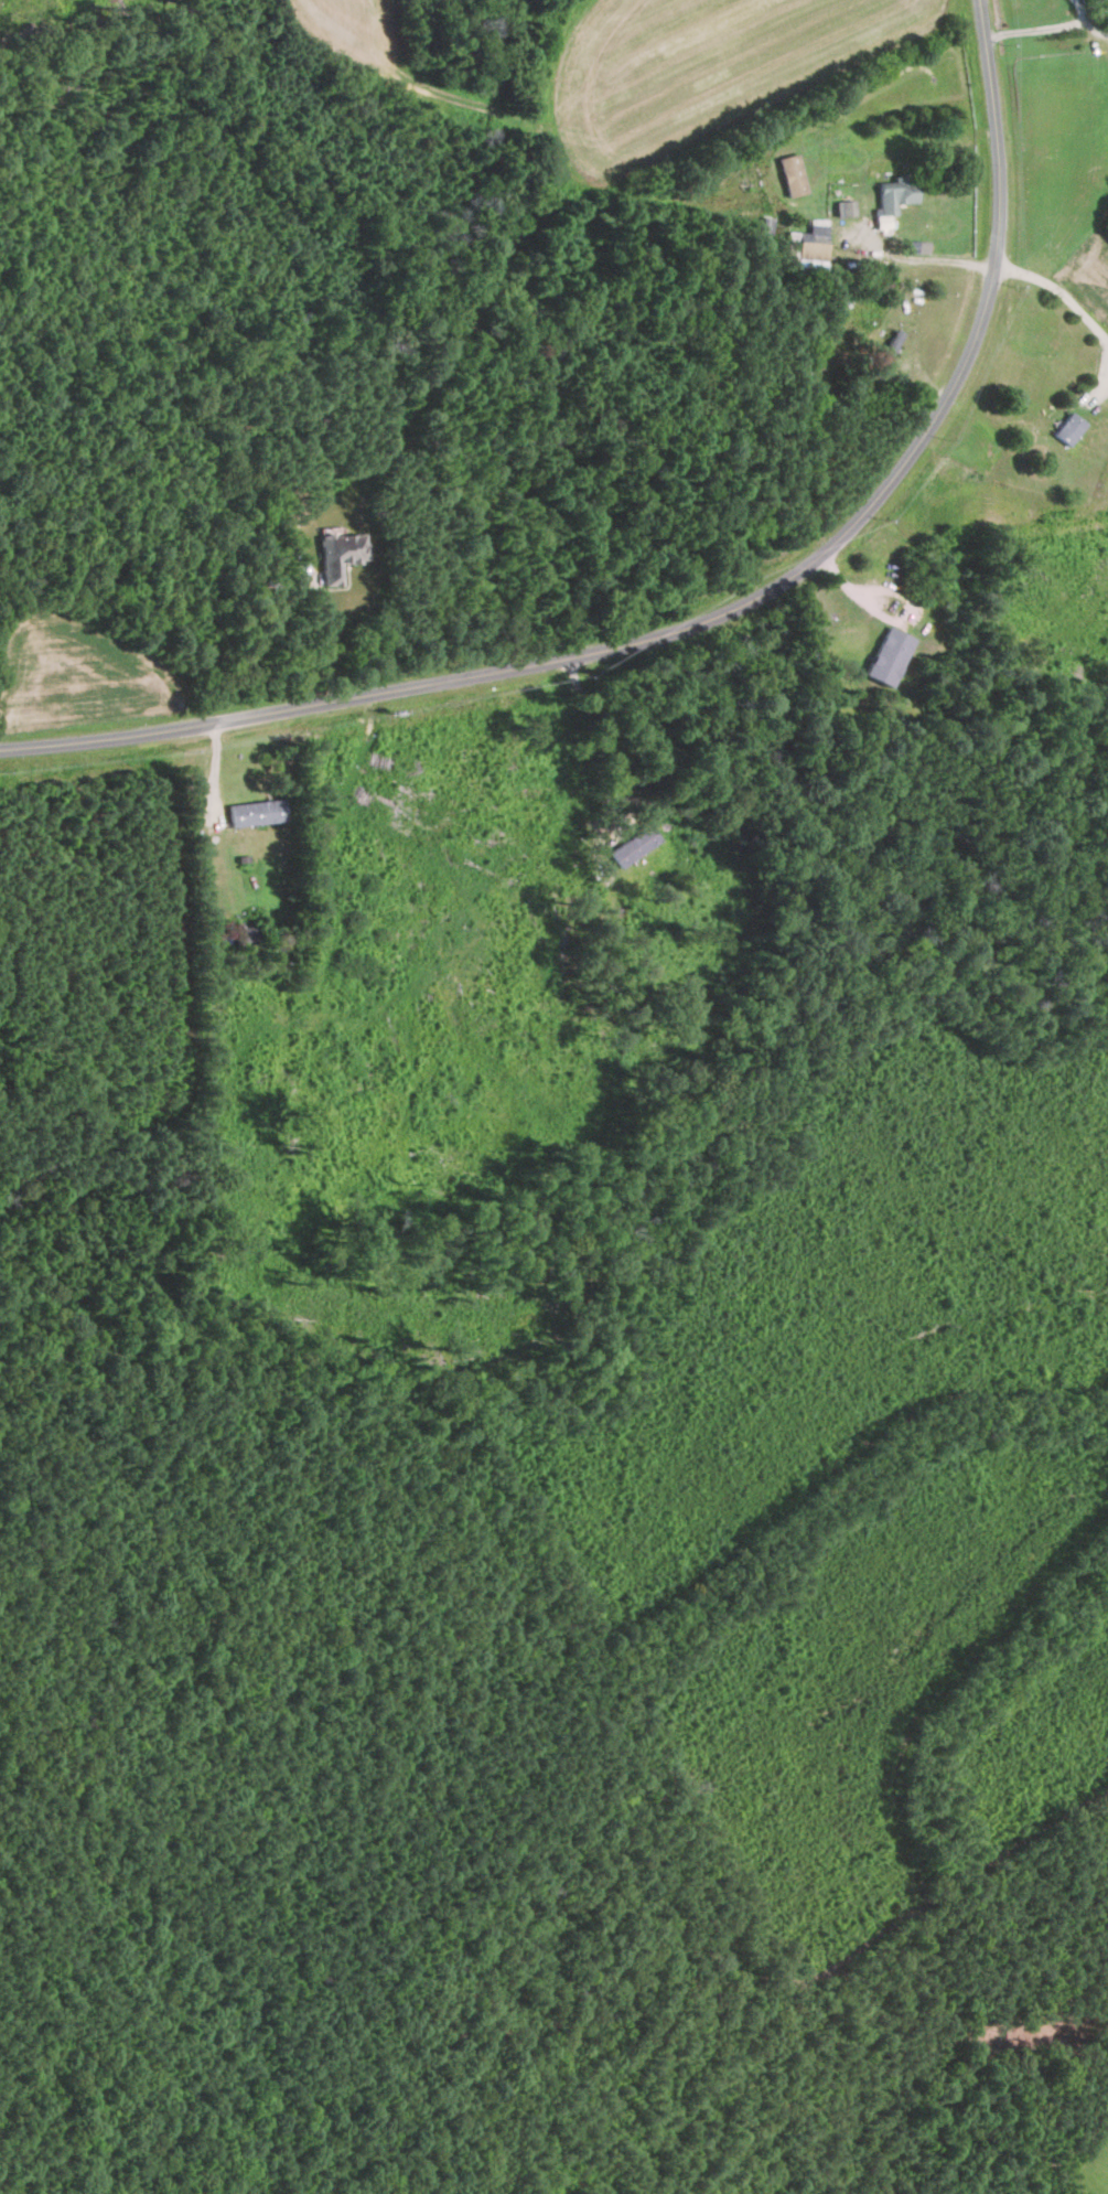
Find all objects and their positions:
building: (1099, 3)
building: (793, 175)
building: (896, 194)
building: (846, 208)
building: (808, 243)
road: (923, 257)
road: (1080, 306)
building: (1069, 429)
building: (338, 553)
road: (721, 619)
road: (330, 641)
building: (890, 655)
road: (599, 742)
building: (256, 811)
building: (633, 845)
building: (247, 937)

